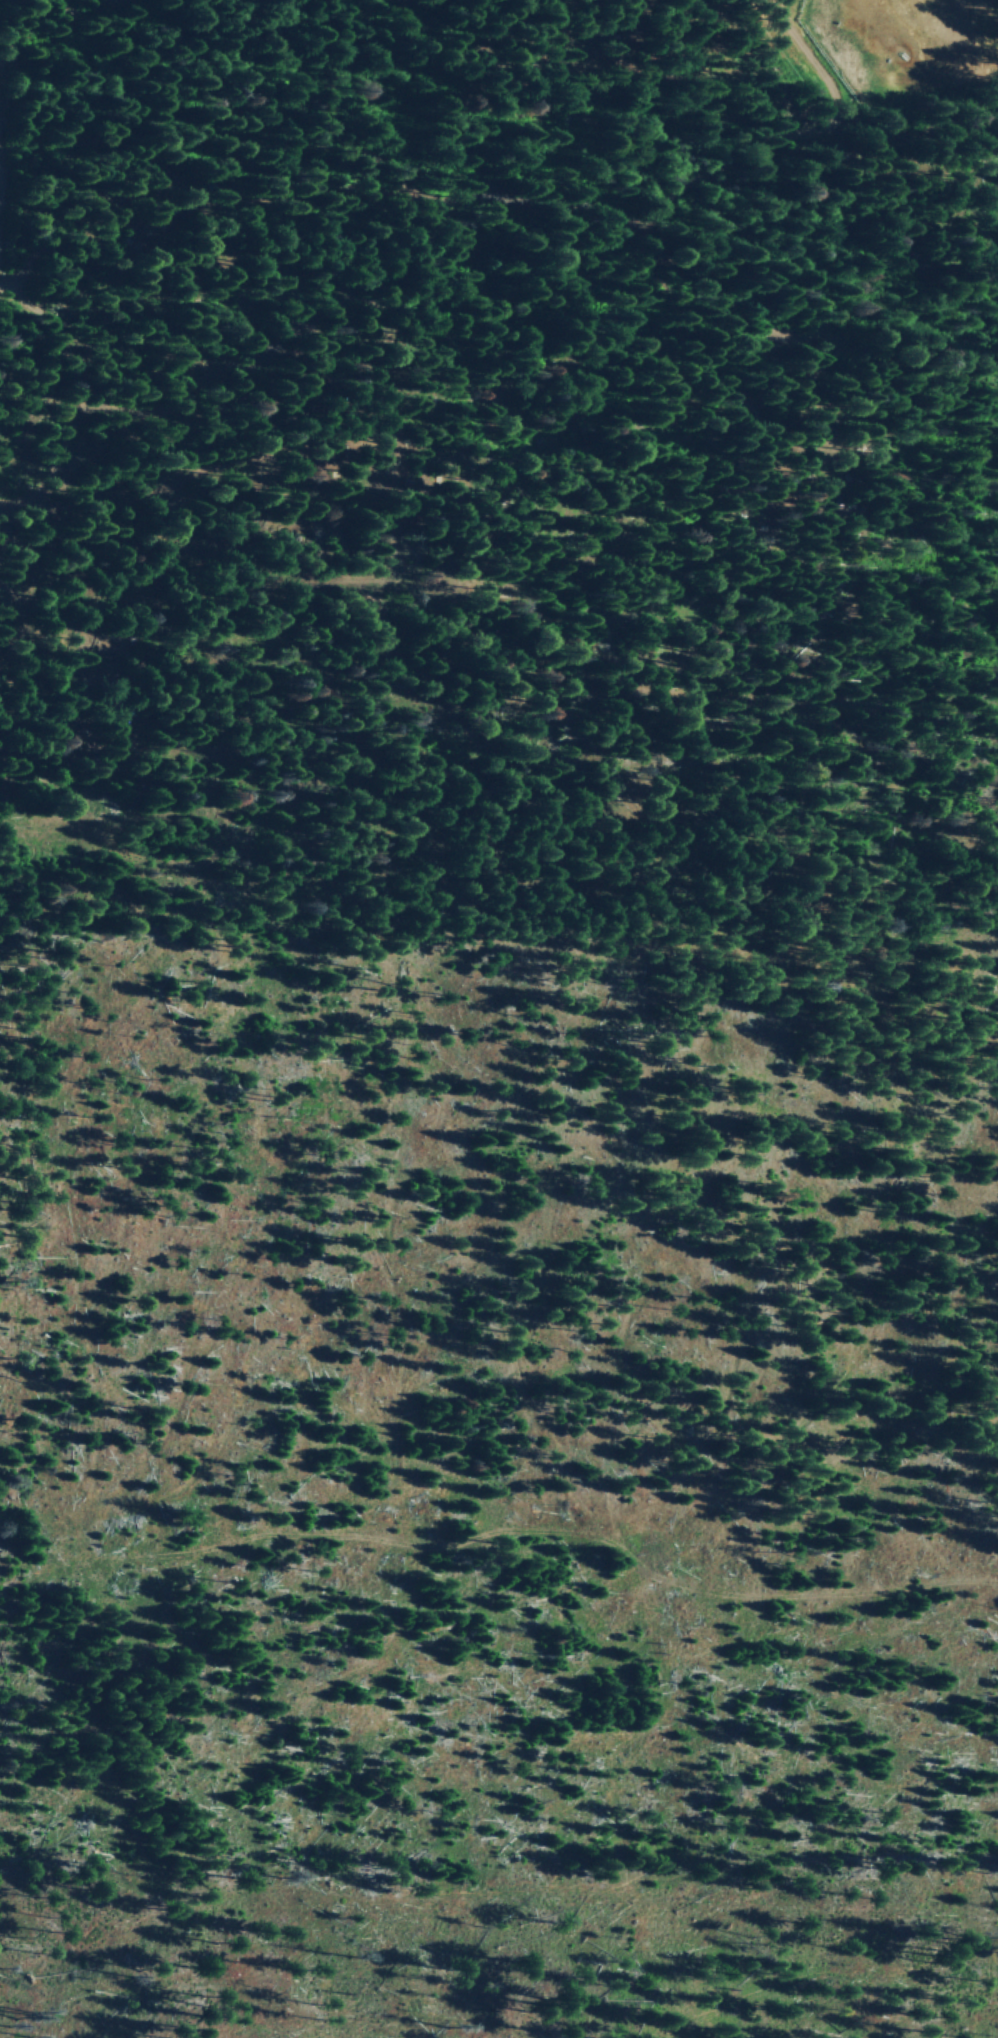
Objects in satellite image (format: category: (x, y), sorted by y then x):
dam: (4, 154)
road: (395, 169)
road: (60, 350)

